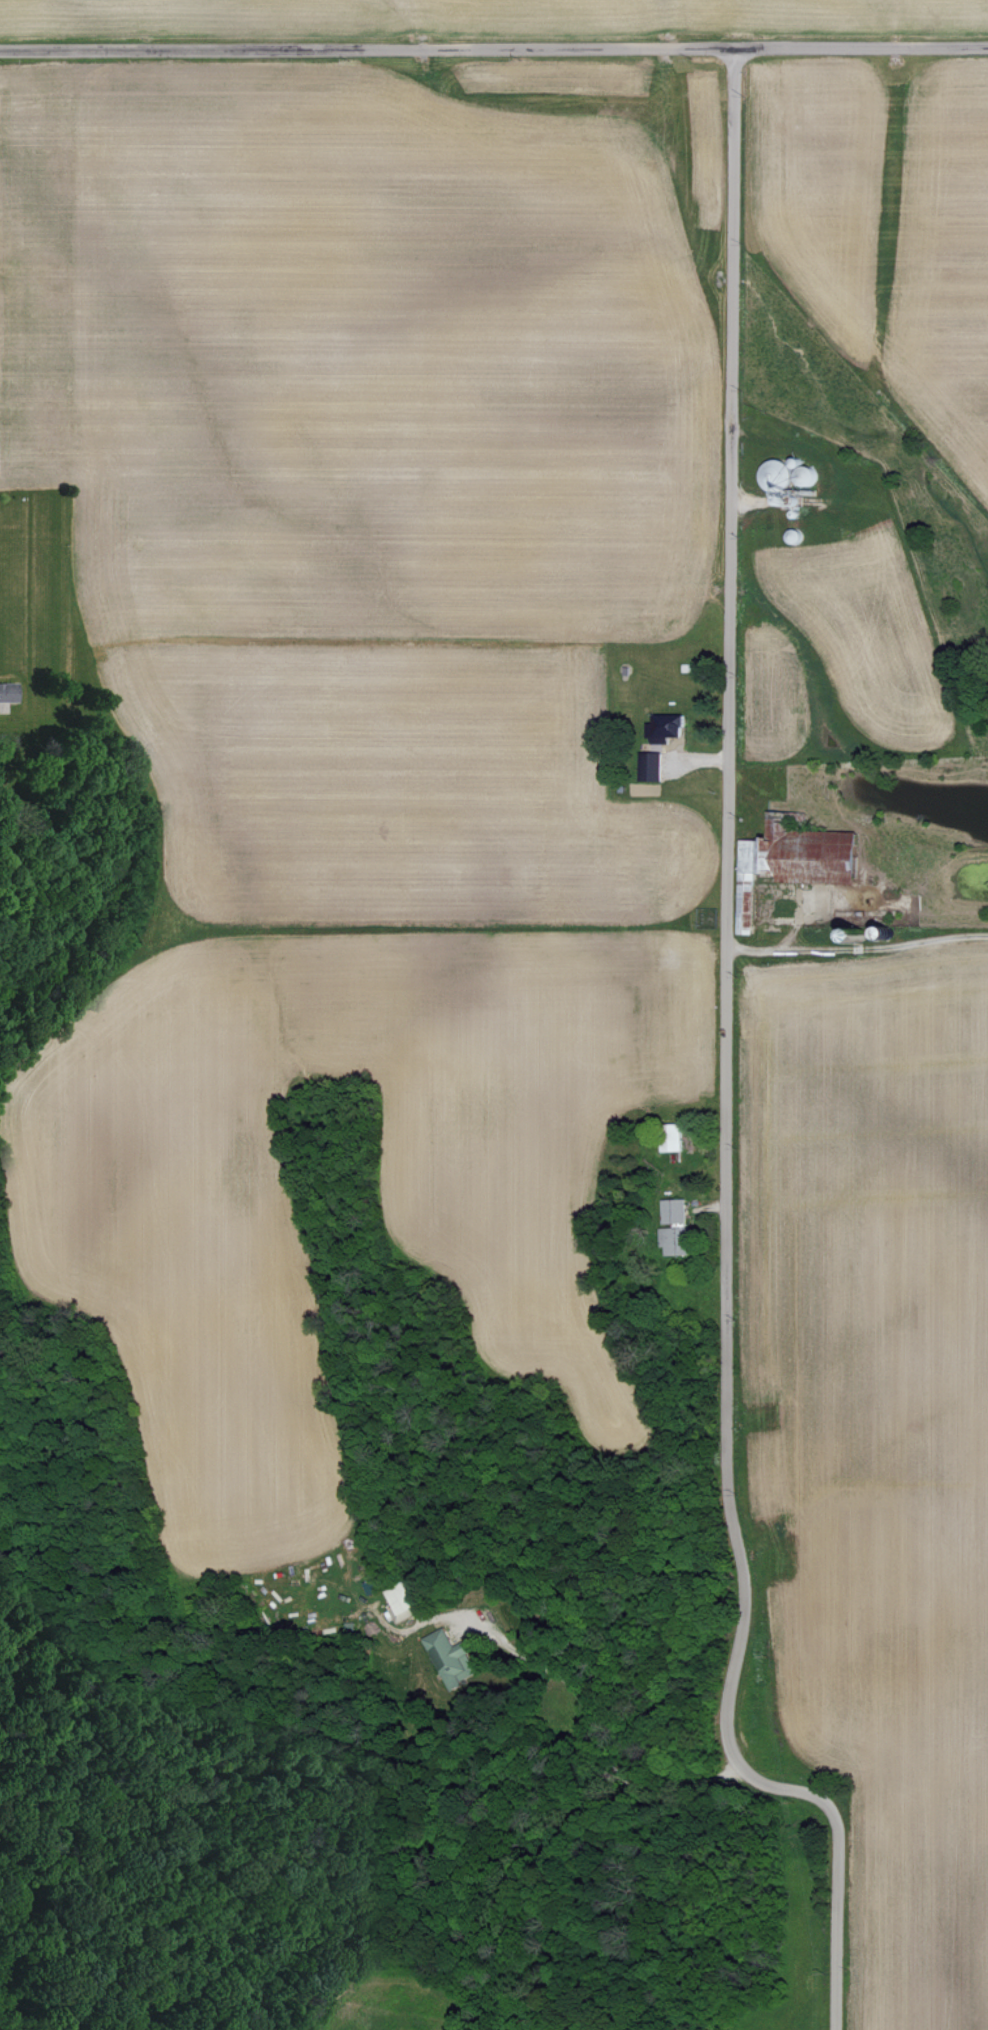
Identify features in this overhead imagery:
road: (494, 49)
building: (776, 474)
building: (805, 475)
building: (7, 692)
building: (663, 727)
building: (648, 766)
building: (789, 860)
road: (856, 948)
road: (725, 1073)
building: (670, 1138)
building: (674, 1228)
building: (399, 1602)
building: (449, 1658)

